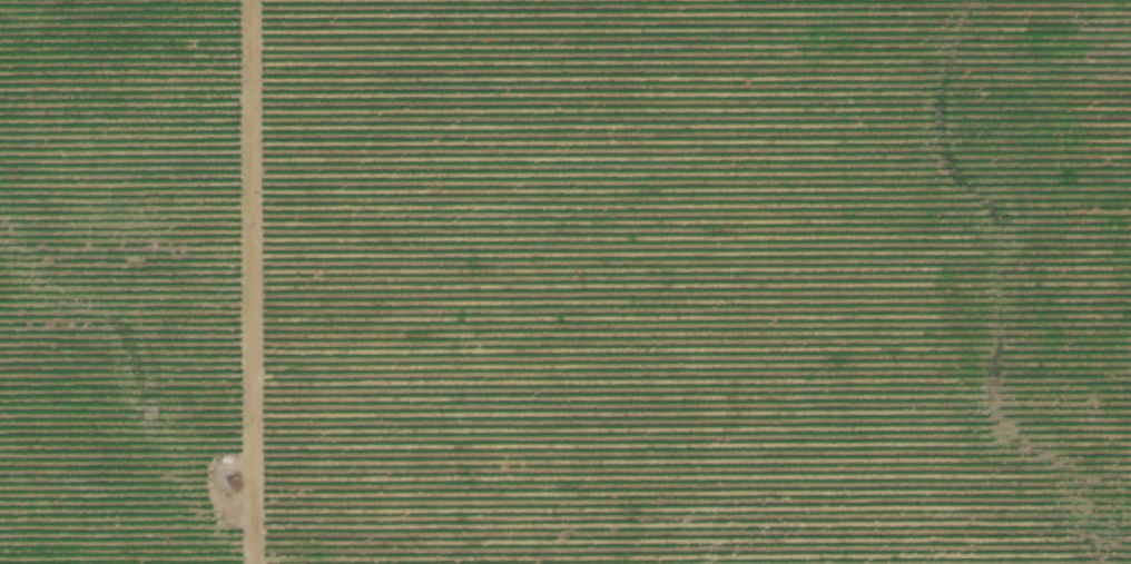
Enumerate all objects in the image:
crop: (565, 281)

